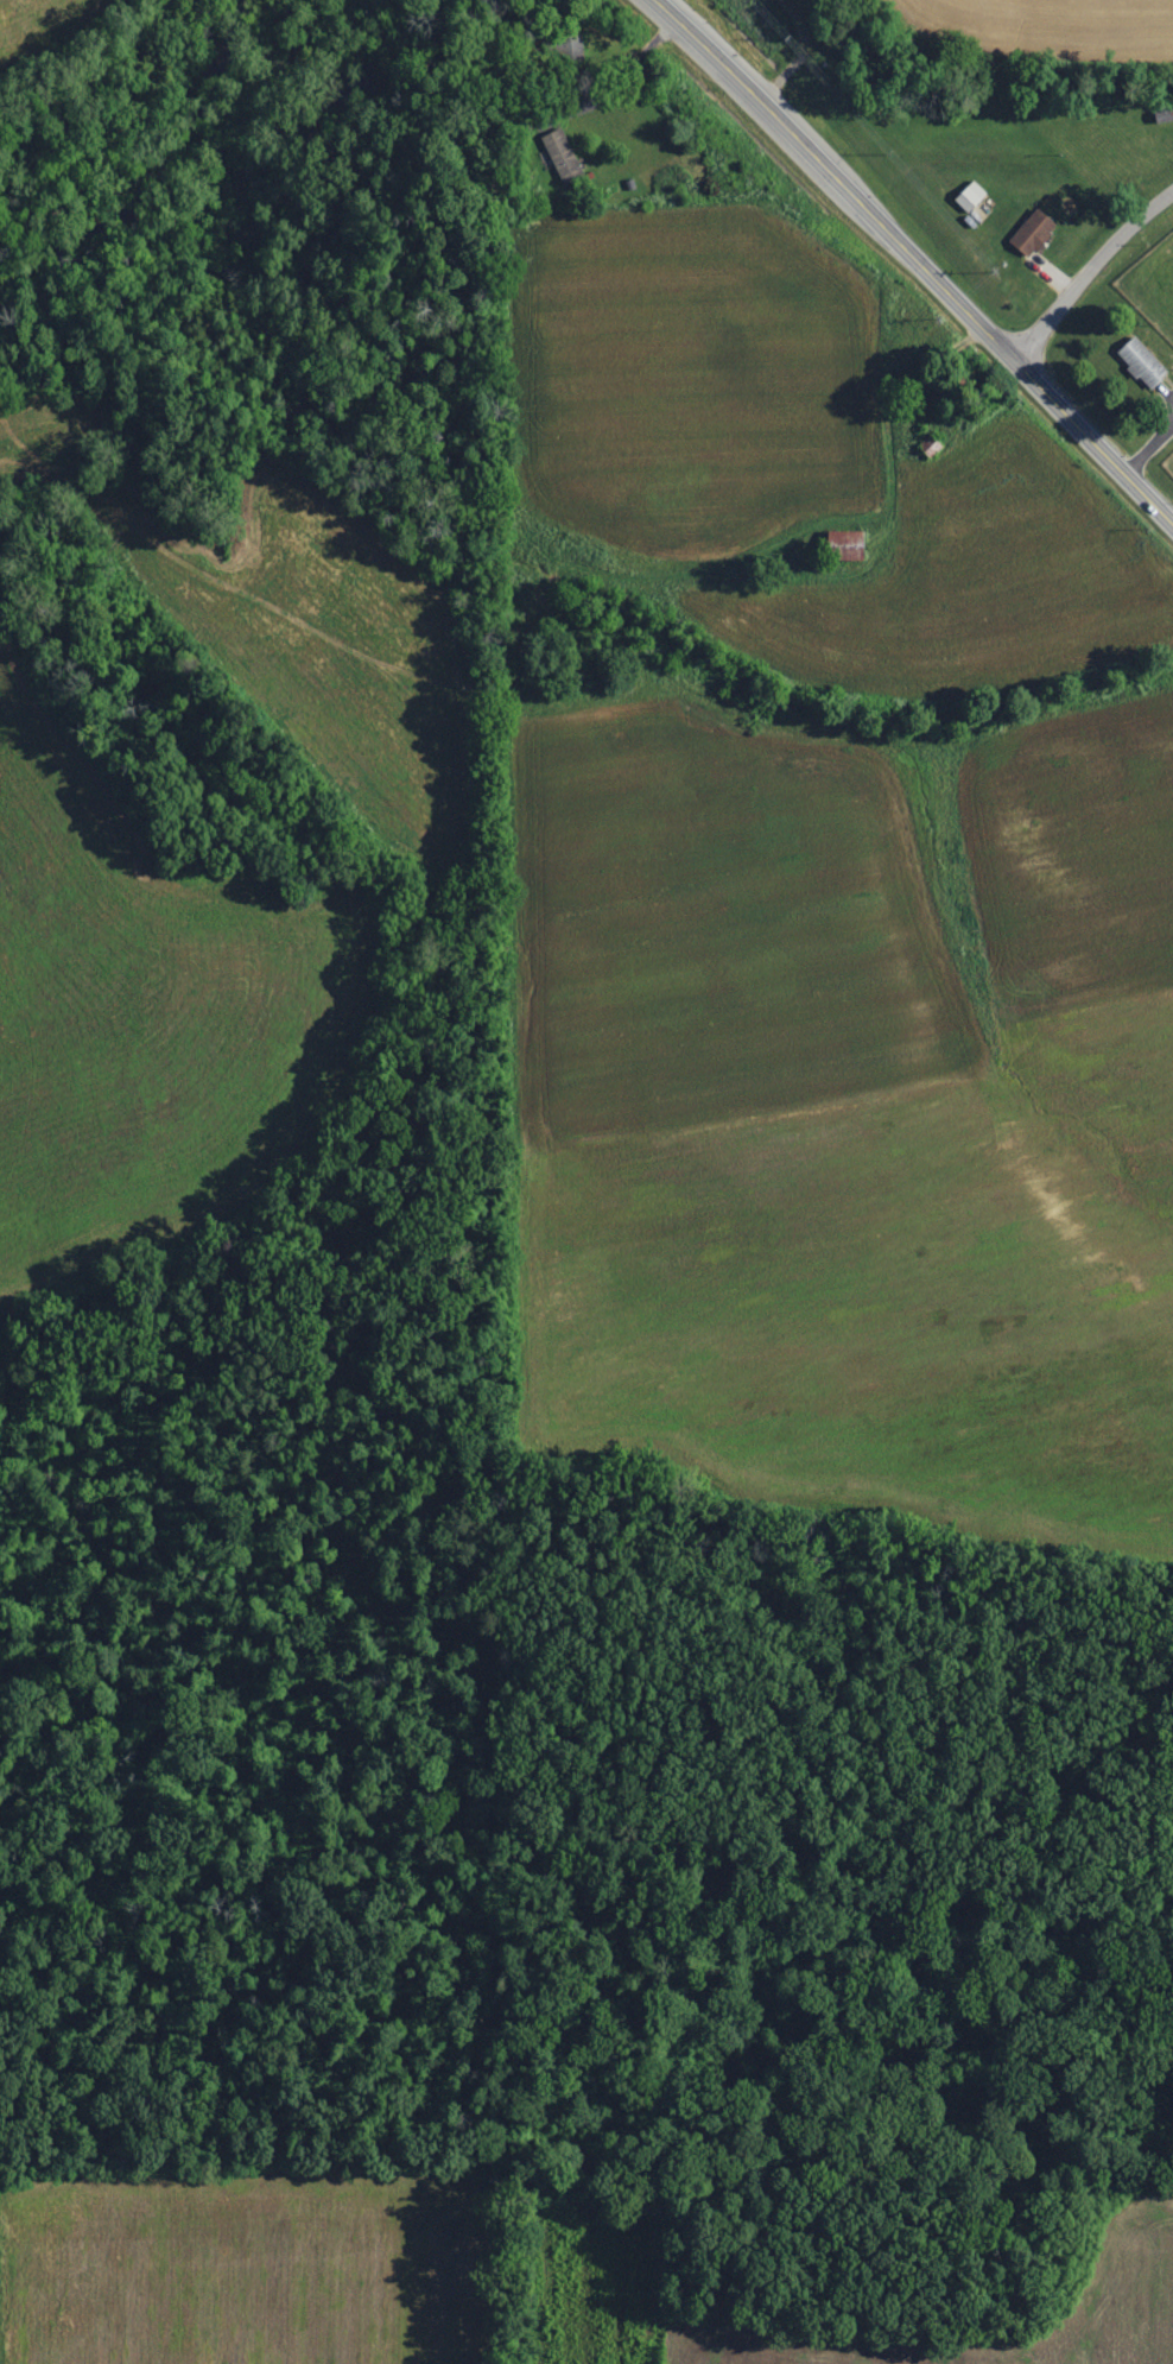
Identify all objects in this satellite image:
road: (97, 74)
road: (622, 88)
building: (562, 154)
river: (159, 163)
building: (970, 195)
building: (1032, 232)
road: (917, 258)
road: (1090, 267)
building: (1141, 361)
building: (847, 544)

